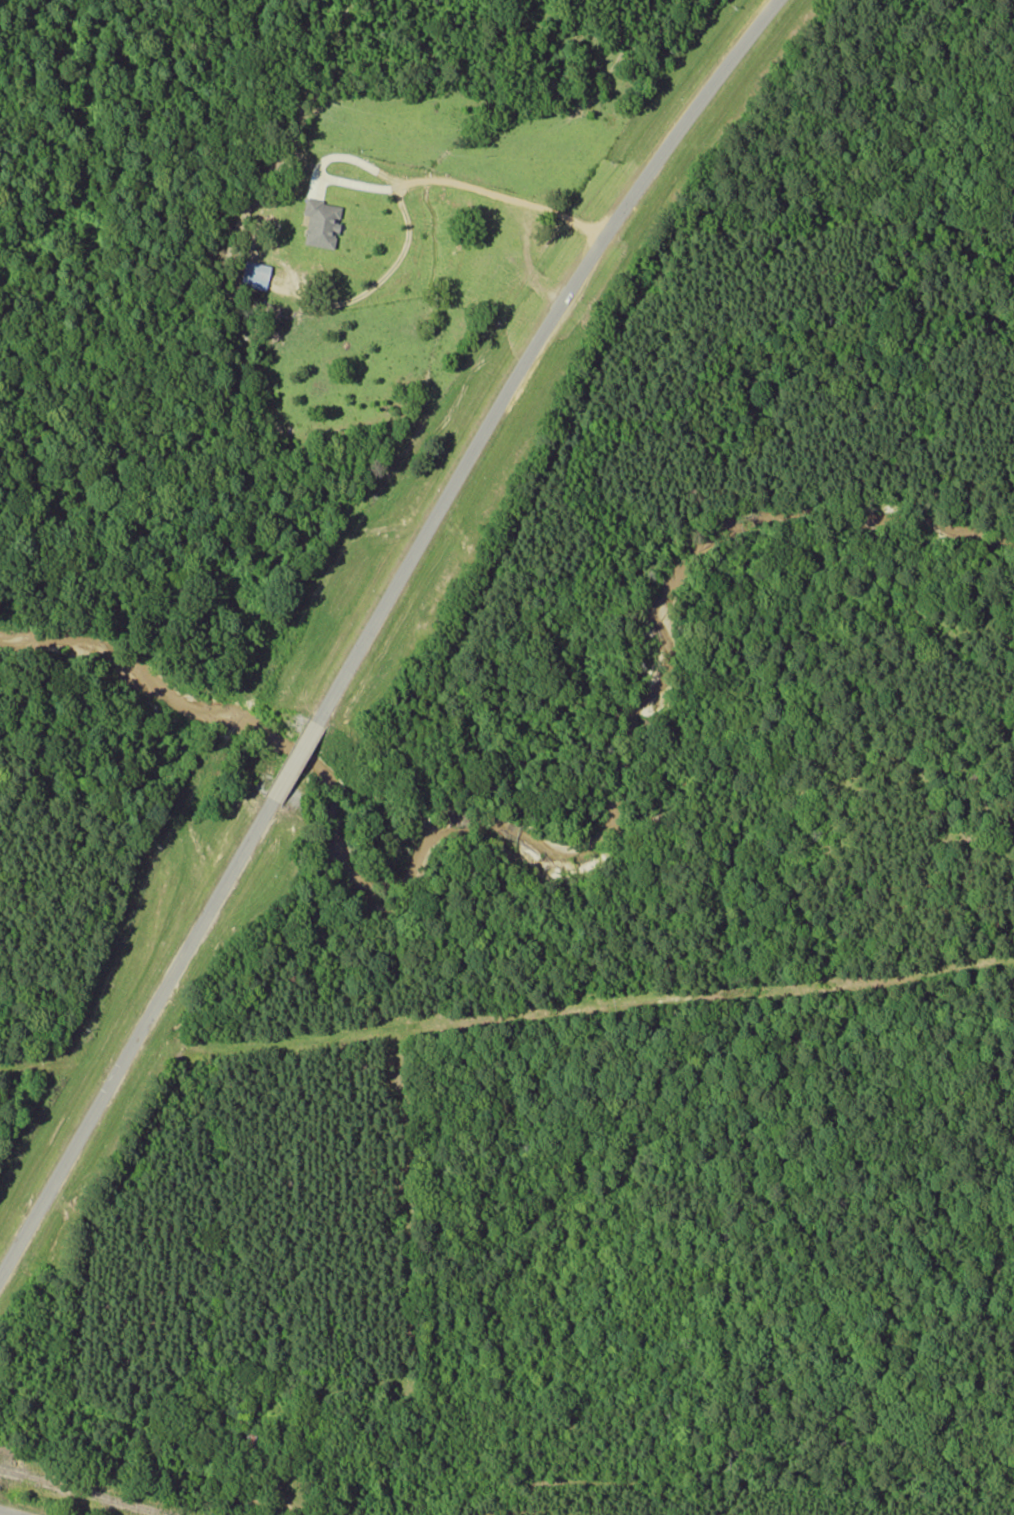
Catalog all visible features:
building: (318, 222)
building: (254, 274)
road: (533, 350)
road: (297, 760)
road: (137, 1038)
railway: (83, 1492)
road: (10, 1512)

